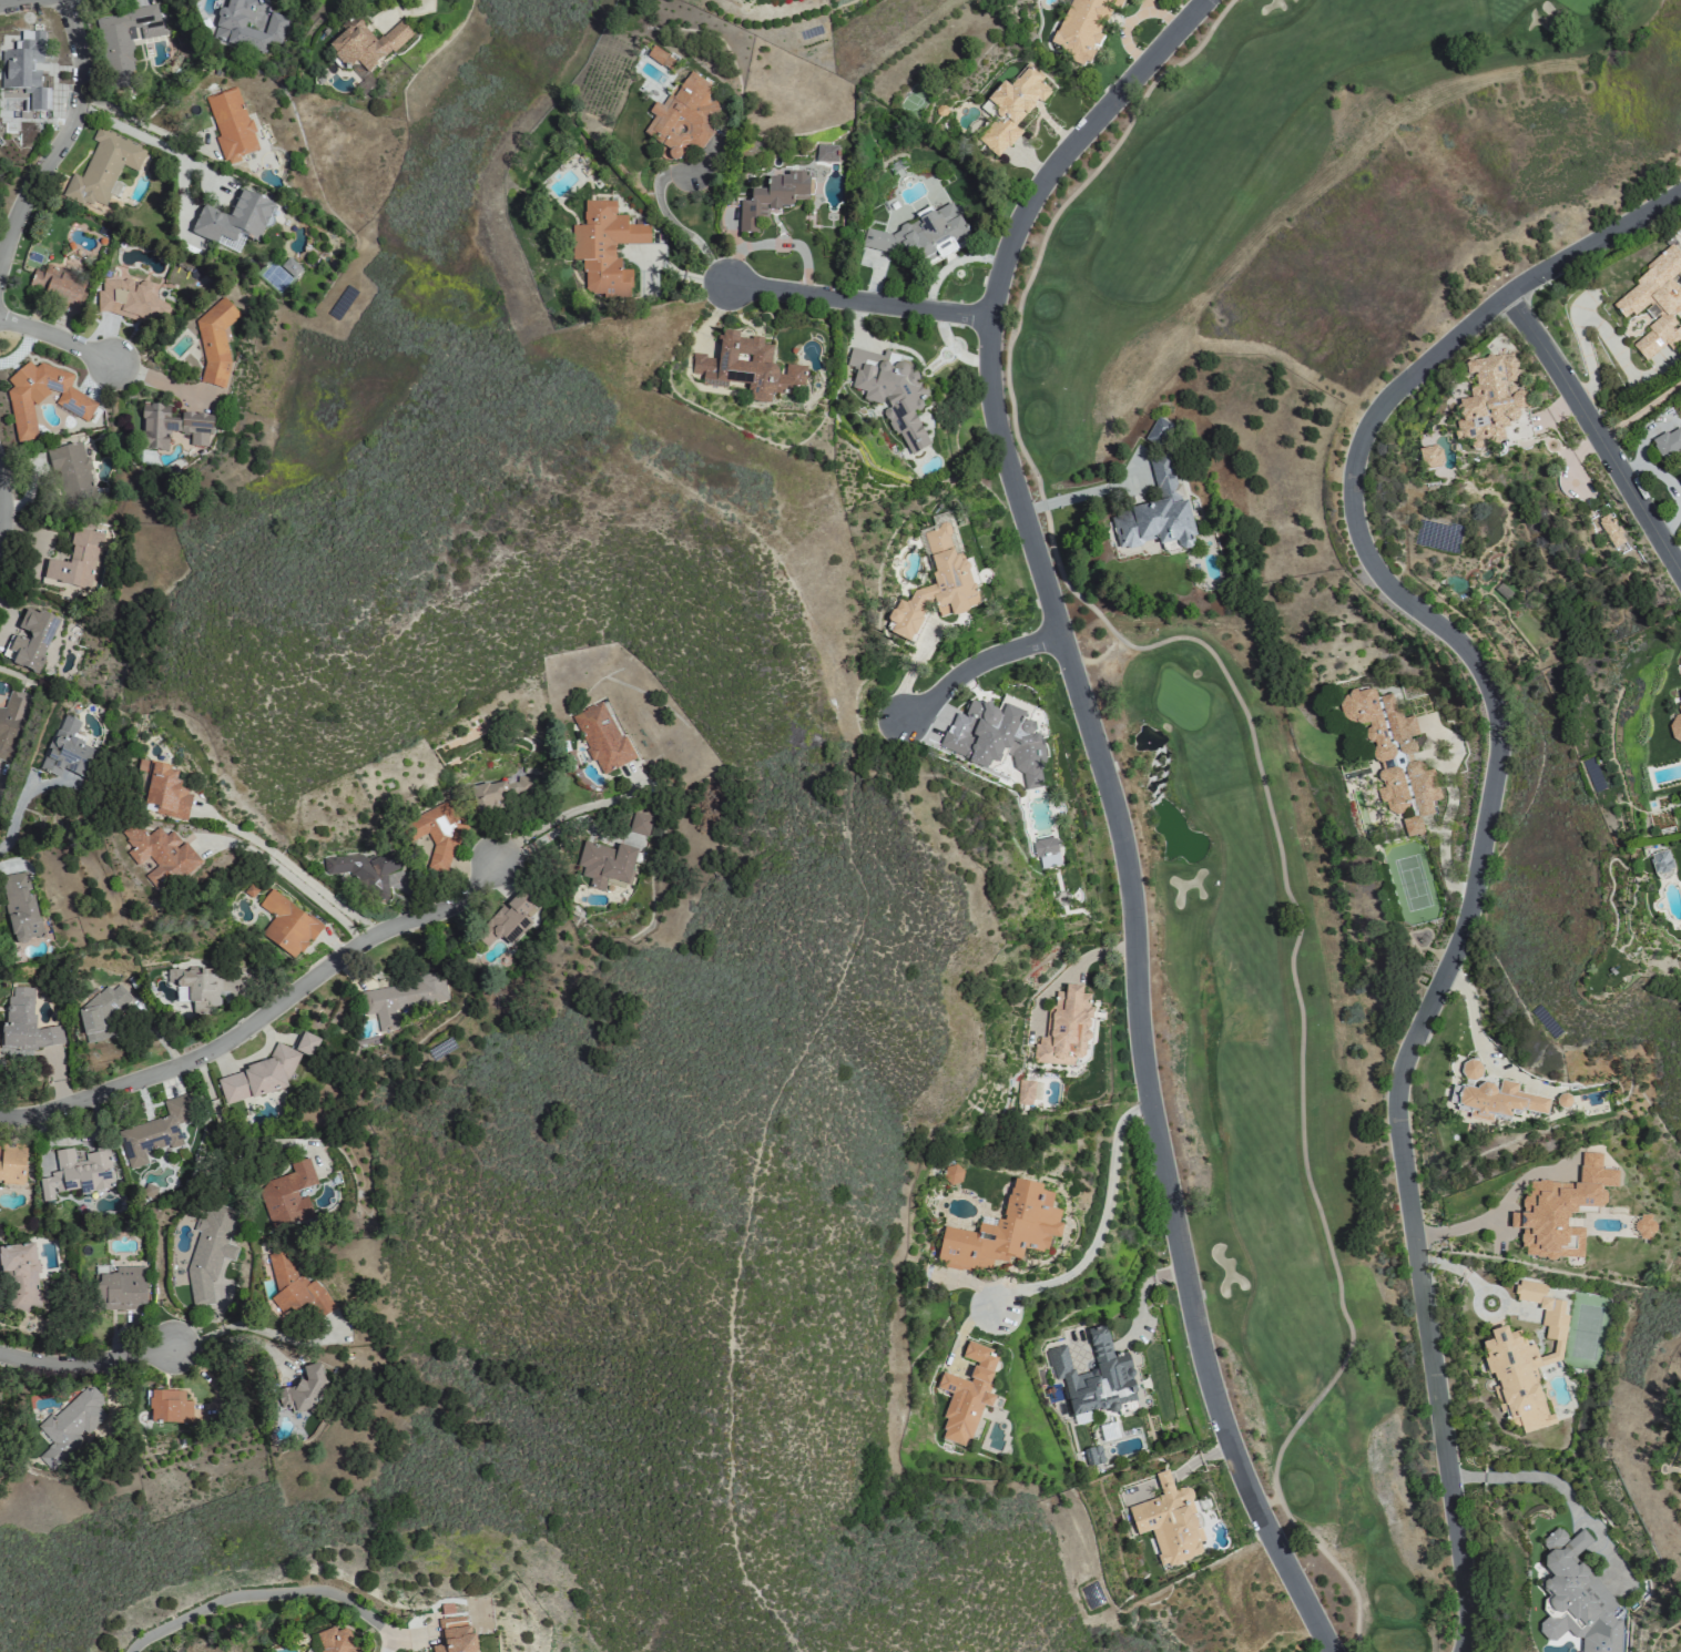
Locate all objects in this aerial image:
road: (7, 1)
building: (246, 26)
building: (1081, 28)
building: (128, 39)
building: (365, 43)
building: (660, 58)
building: (24, 70)
building: (1011, 106)
building: (682, 116)
building: (230, 123)
road: (64, 133)
road: (155, 143)
building: (826, 152)
building: (103, 166)
building: (772, 197)
building: (233, 218)
road: (672, 222)
building: (917, 237)
building: (603, 247)
building: (289, 266)
building: (58, 286)
road: (858, 299)
building: (128, 300)
building: (1653, 305)
road: (54, 337)
building: (214, 341)
building: (746, 367)
road: (156, 378)
building: (890, 390)
building: (41, 397)
building: (1489, 400)
road: (1640, 408)
building: (171, 426)
road: (1596, 430)
building: (1158, 431)
building: (1668, 445)
building: (1429, 458)
building: (71, 471)
building: (1680, 480)
road: (1081, 494)
road: (0, 506)
building: (1154, 514)
building: (1610, 532)
building: (74, 561)
building: (936, 584)
road: (1451, 634)
building: (30, 640)
building: (1680, 650)
park: (1303, 651)
road: (969, 665)
building: (1679, 698)
building: (12, 722)
building: (1675, 727)
building: (602, 736)
building: (995, 740)
building: (67, 749)
road: (1254, 756)
building: (1394, 756)
building: (501, 791)
building: (165, 792)
road: (1107, 798)
road: (16, 817)
building: (438, 837)
building: (1046, 852)
building: (160, 854)
building: (1660, 861)
building: (604, 863)
building: (364, 864)
road: (296, 869)
road: (292, 879)
building: (20, 907)
building: (508, 919)
building: (286, 925)
building: (197, 987)
building: (400, 997)
road: (266, 1010)
building: (101, 1012)
building: (26, 1021)
building: (1064, 1028)
building: (304, 1042)
building: (1471, 1070)
building: (258, 1075)
building: (1028, 1091)
building: (1499, 1100)
building: (1562, 1100)
building: (155, 1131)
road: (224, 1139)
building: (12, 1163)
building: (75, 1172)
building: (952, 1175)
building: (287, 1194)
building: (1560, 1210)
road: (1488, 1212)
building: (1644, 1225)
building: (1005, 1231)
road: (1089, 1231)
building: (210, 1252)
building: (20, 1277)
building: (295, 1287)
building: (122, 1288)
road: (204, 1319)
road: (247, 1326)
road: (232, 1337)
building: (1525, 1359)
road: (81, 1367)
road: (206, 1375)
building: (1097, 1376)
building: (303, 1390)
building: (967, 1394)
building: (169, 1406)
building: (70, 1425)
road: (1446, 1450)
road: (1525, 1475)
building: (1169, 1521)
road: (257, 1590)
building: (1576, 1595)
building: (455, 1635)
building: (335, 1640)

